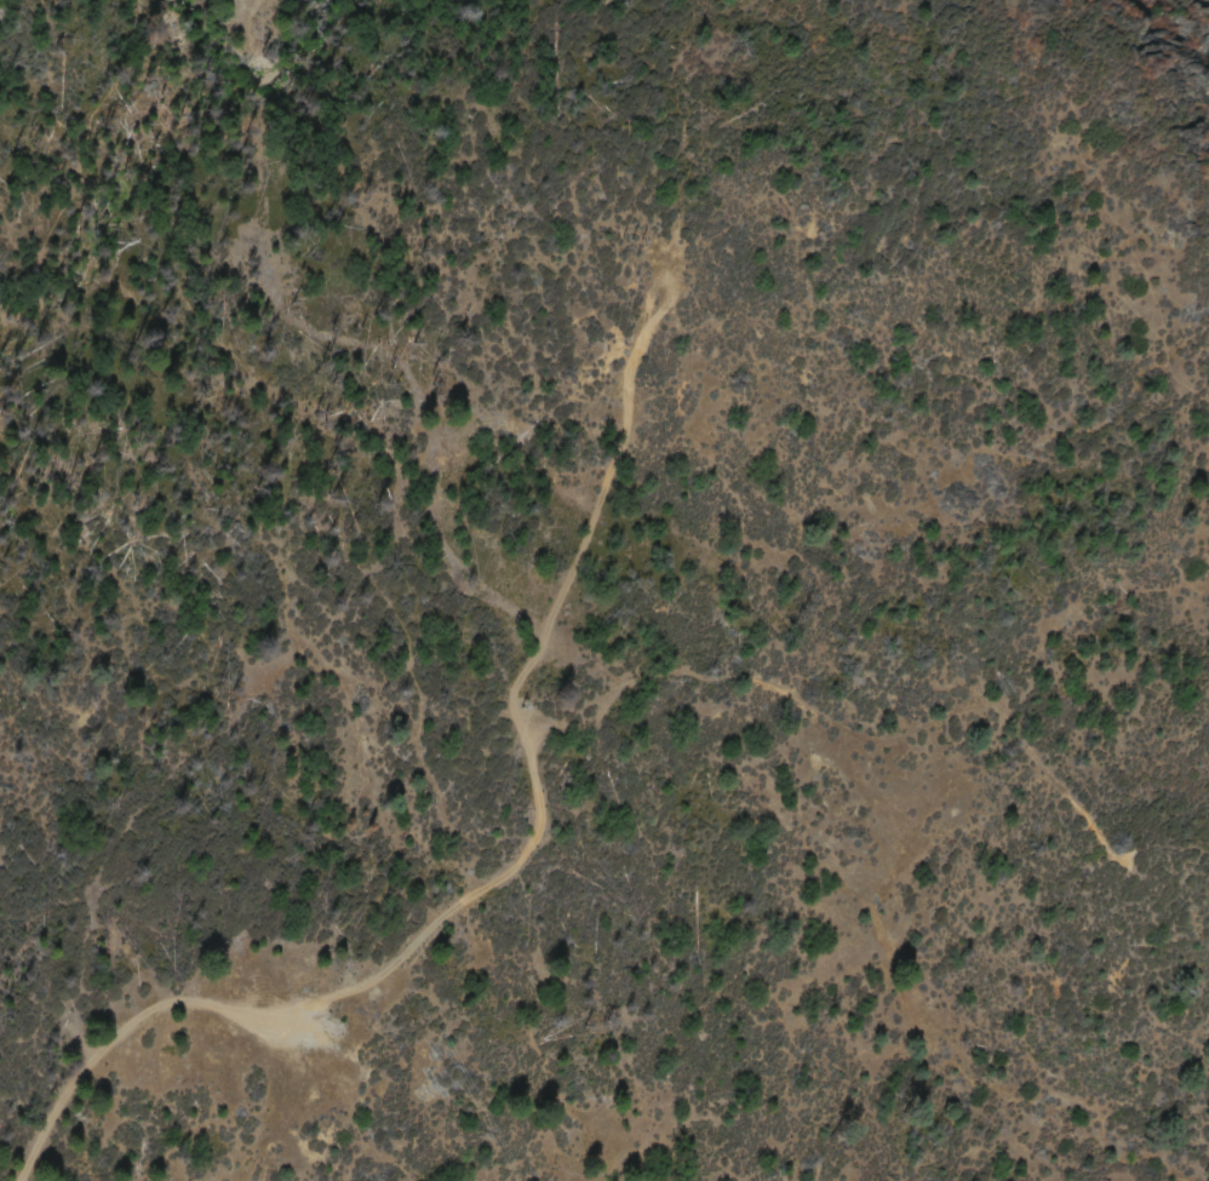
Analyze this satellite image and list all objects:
road: (320, 1002)

